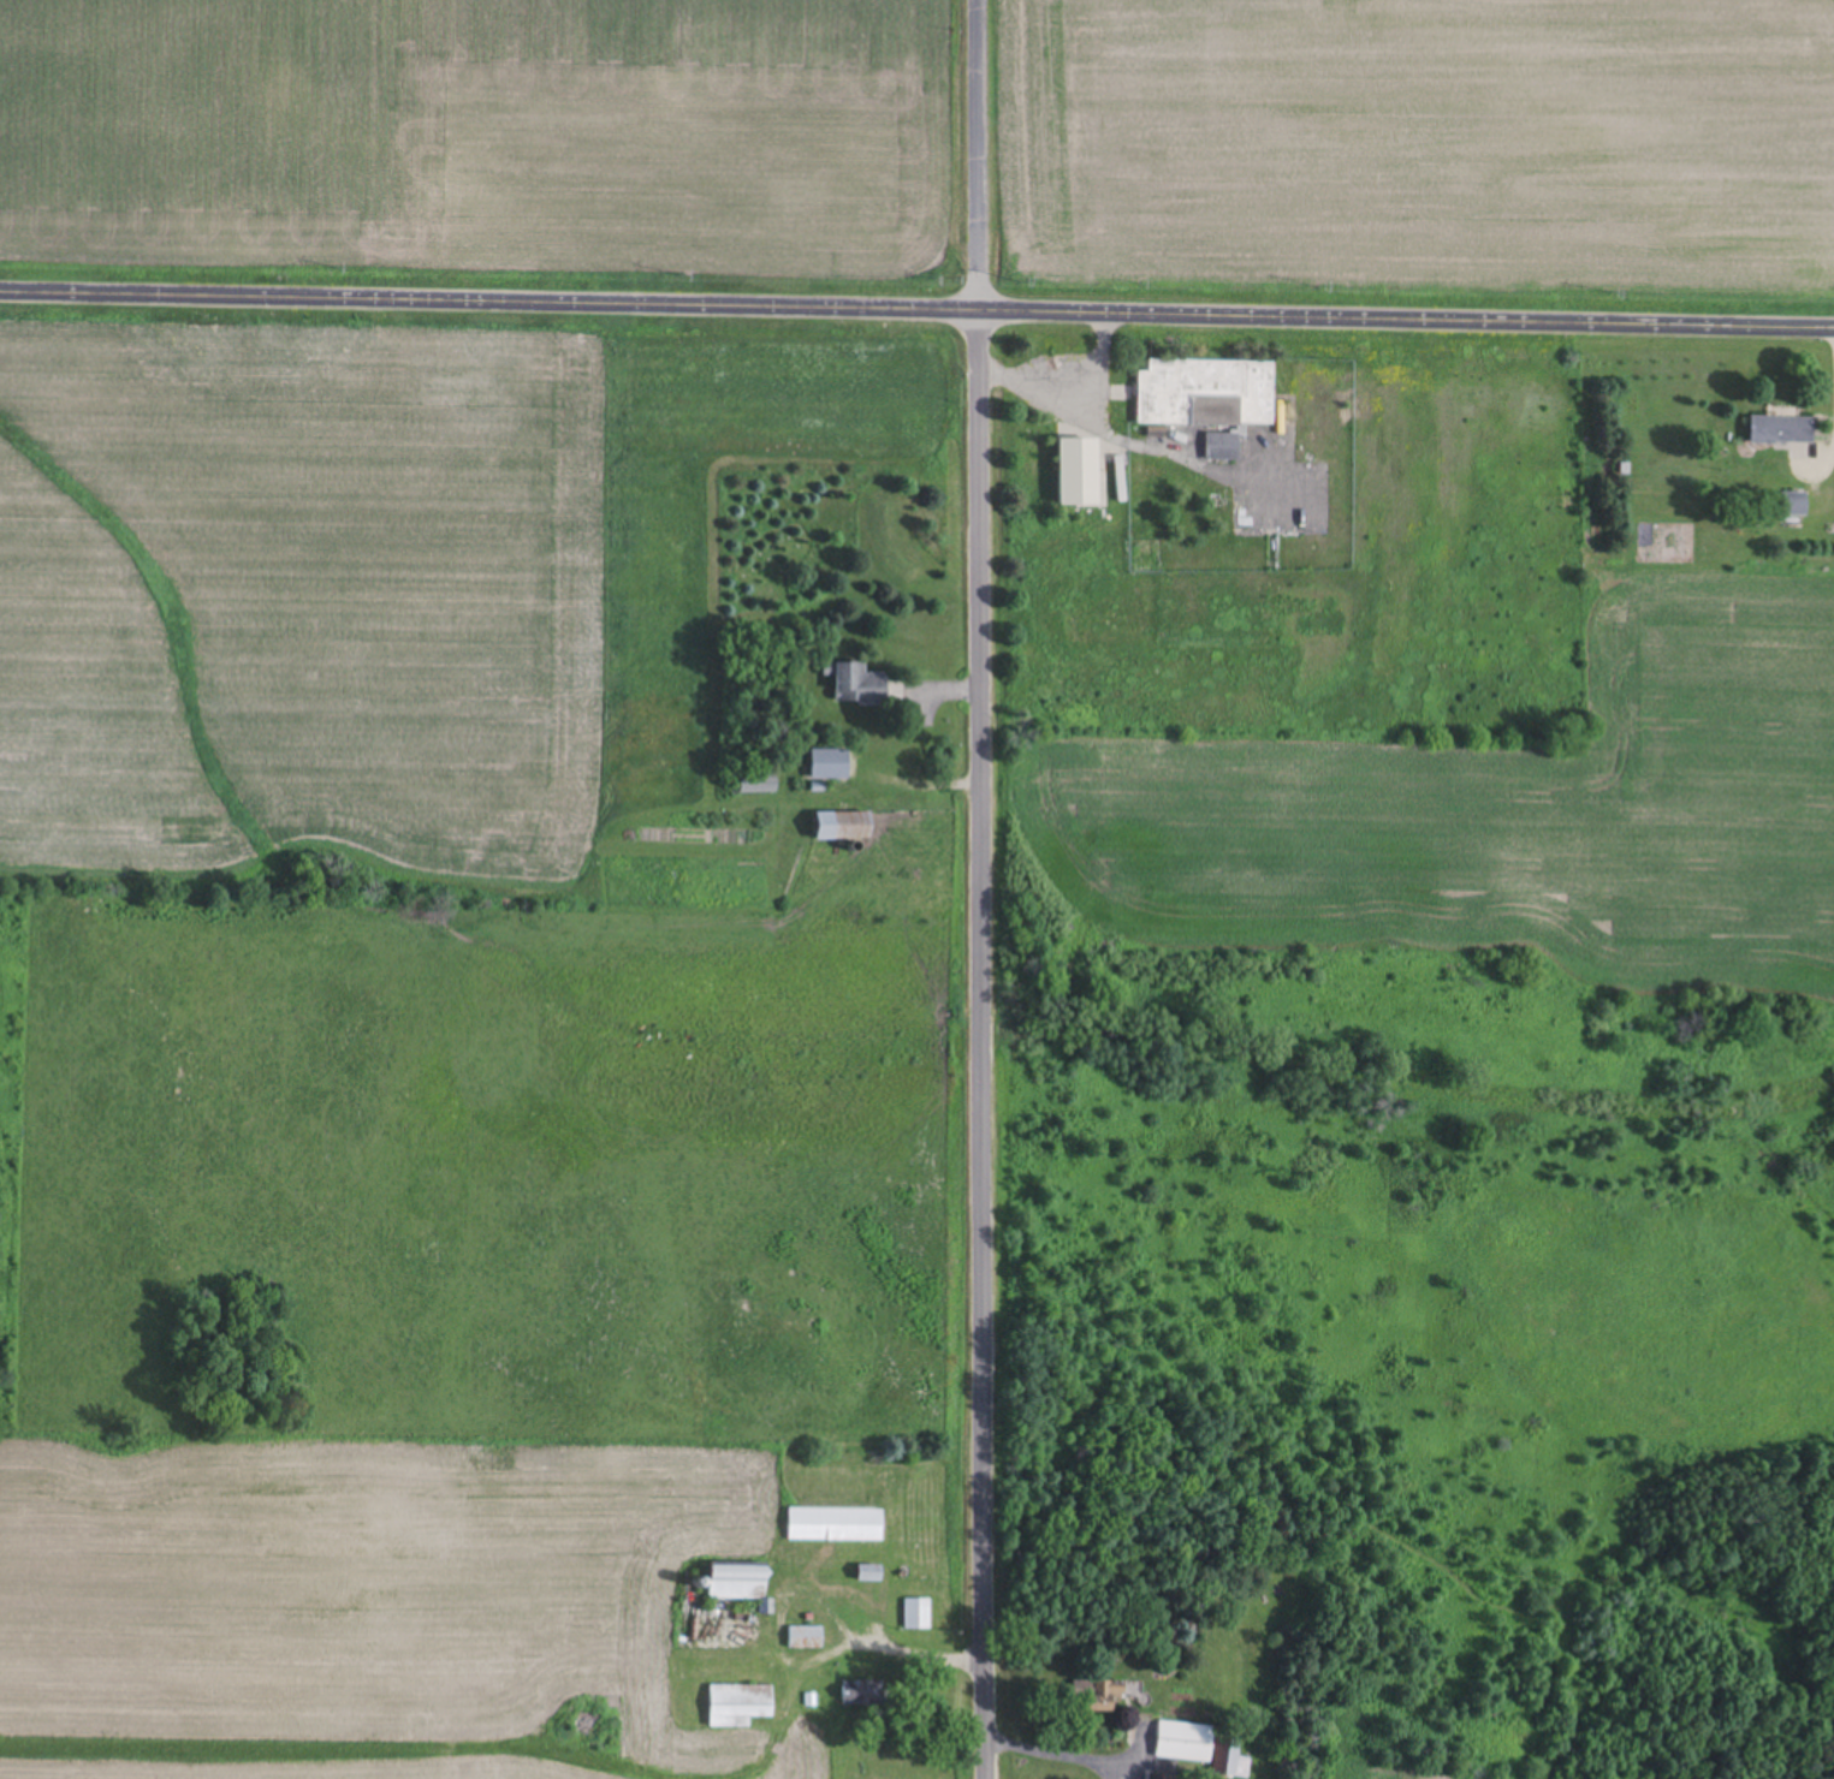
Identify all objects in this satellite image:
road: (916, 316)
building: (1207, 392)
building: (1782, 429)
building: (1223, 448)
building: (1082, 470)
building: (1794, 506)
building: (854, 683)
building: (760, 784)
building: (847, 827)
road: (983, 889)
building: (836, 1525)
building: (872, 1573)
building: (741, 1583)
building: (918, 1616)
building: (806, 1638)
building: (862, 1695)
building: (1099, 1695)
building: (740, 1706)
building: (1200, 1749)
building: (1159, 1777)

